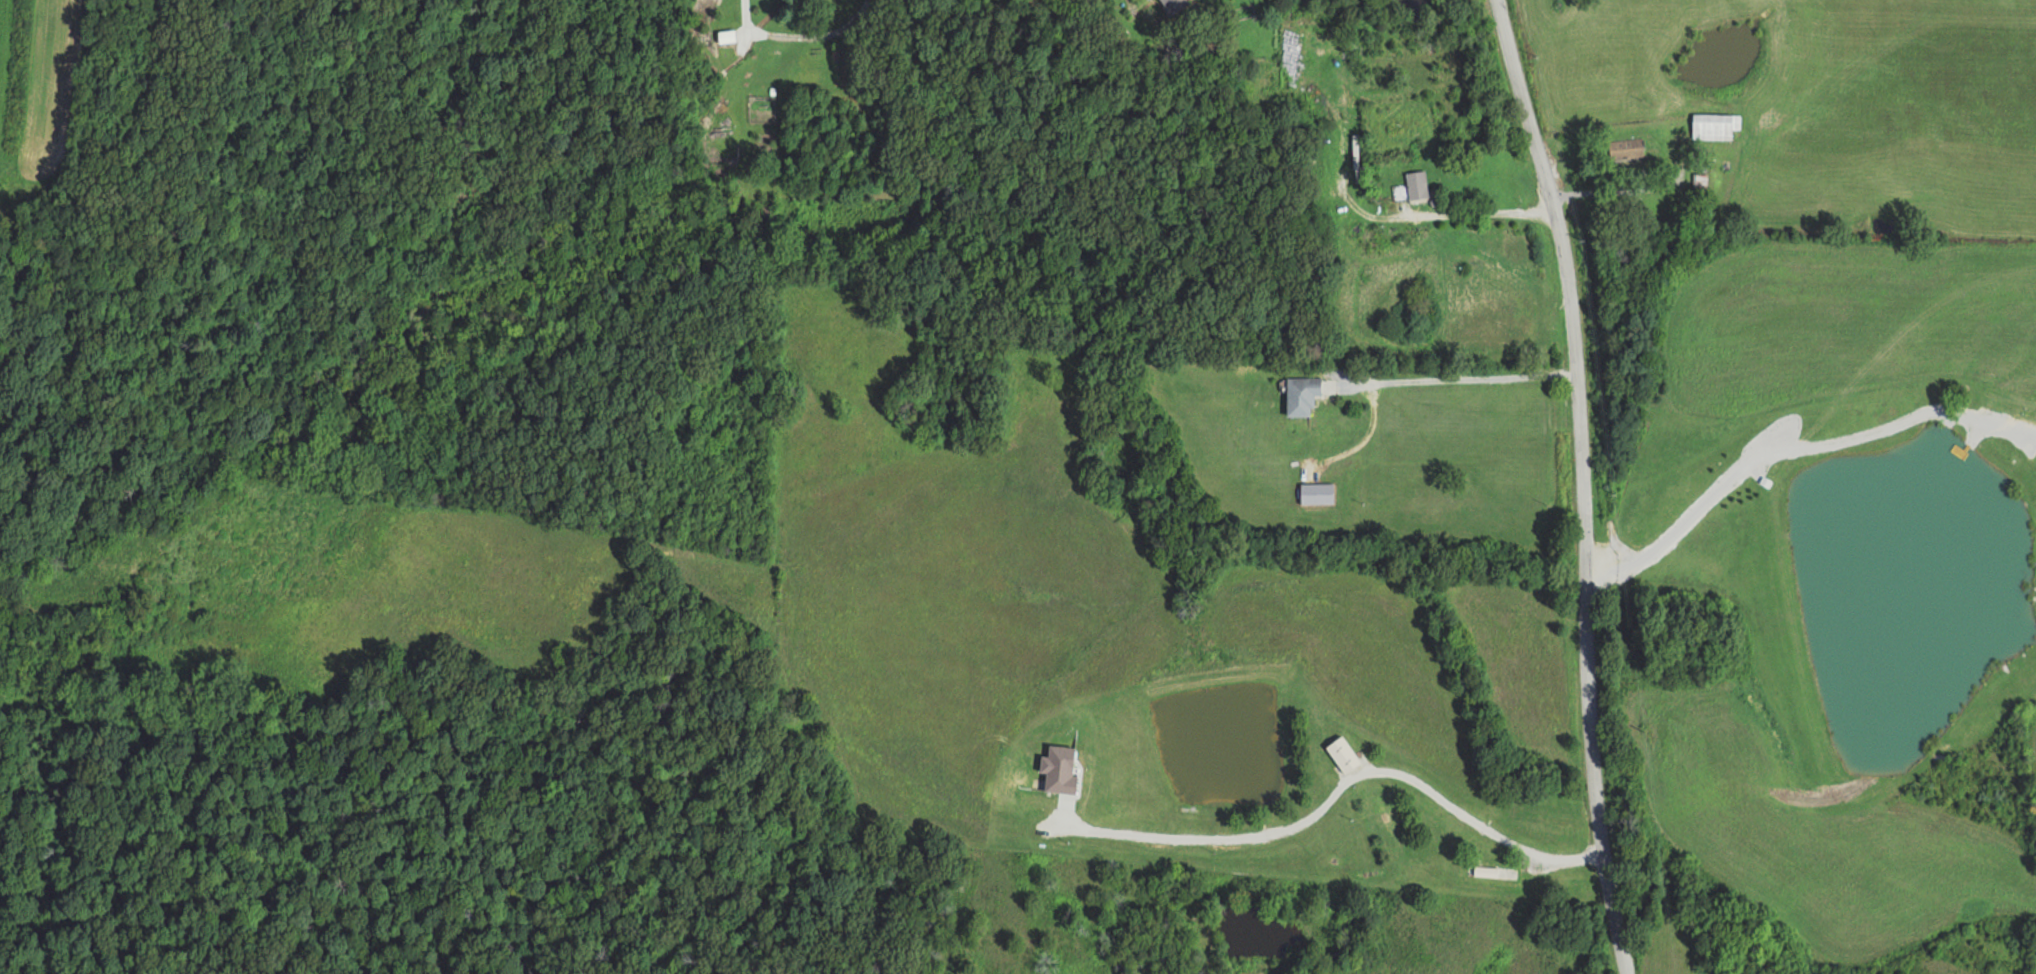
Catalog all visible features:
building: (1144, 0)
building: (1171, 5)
building: (1309, 33)
road: (798, 35)
building: (1713, 126)
building: (1625, 148)
building: (1699, 185)
building: (1411, 187)
building: (1299, 396)
road: (1582, 484)
building: (1341, 754)
road: (1469, 818)
building: (1491, 872)

